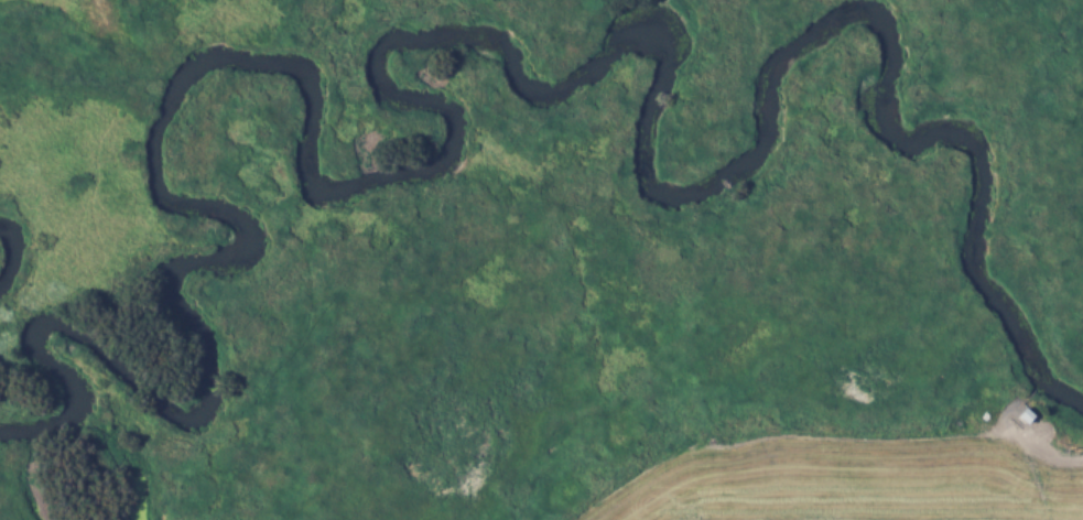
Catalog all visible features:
building: (1025, 414)

